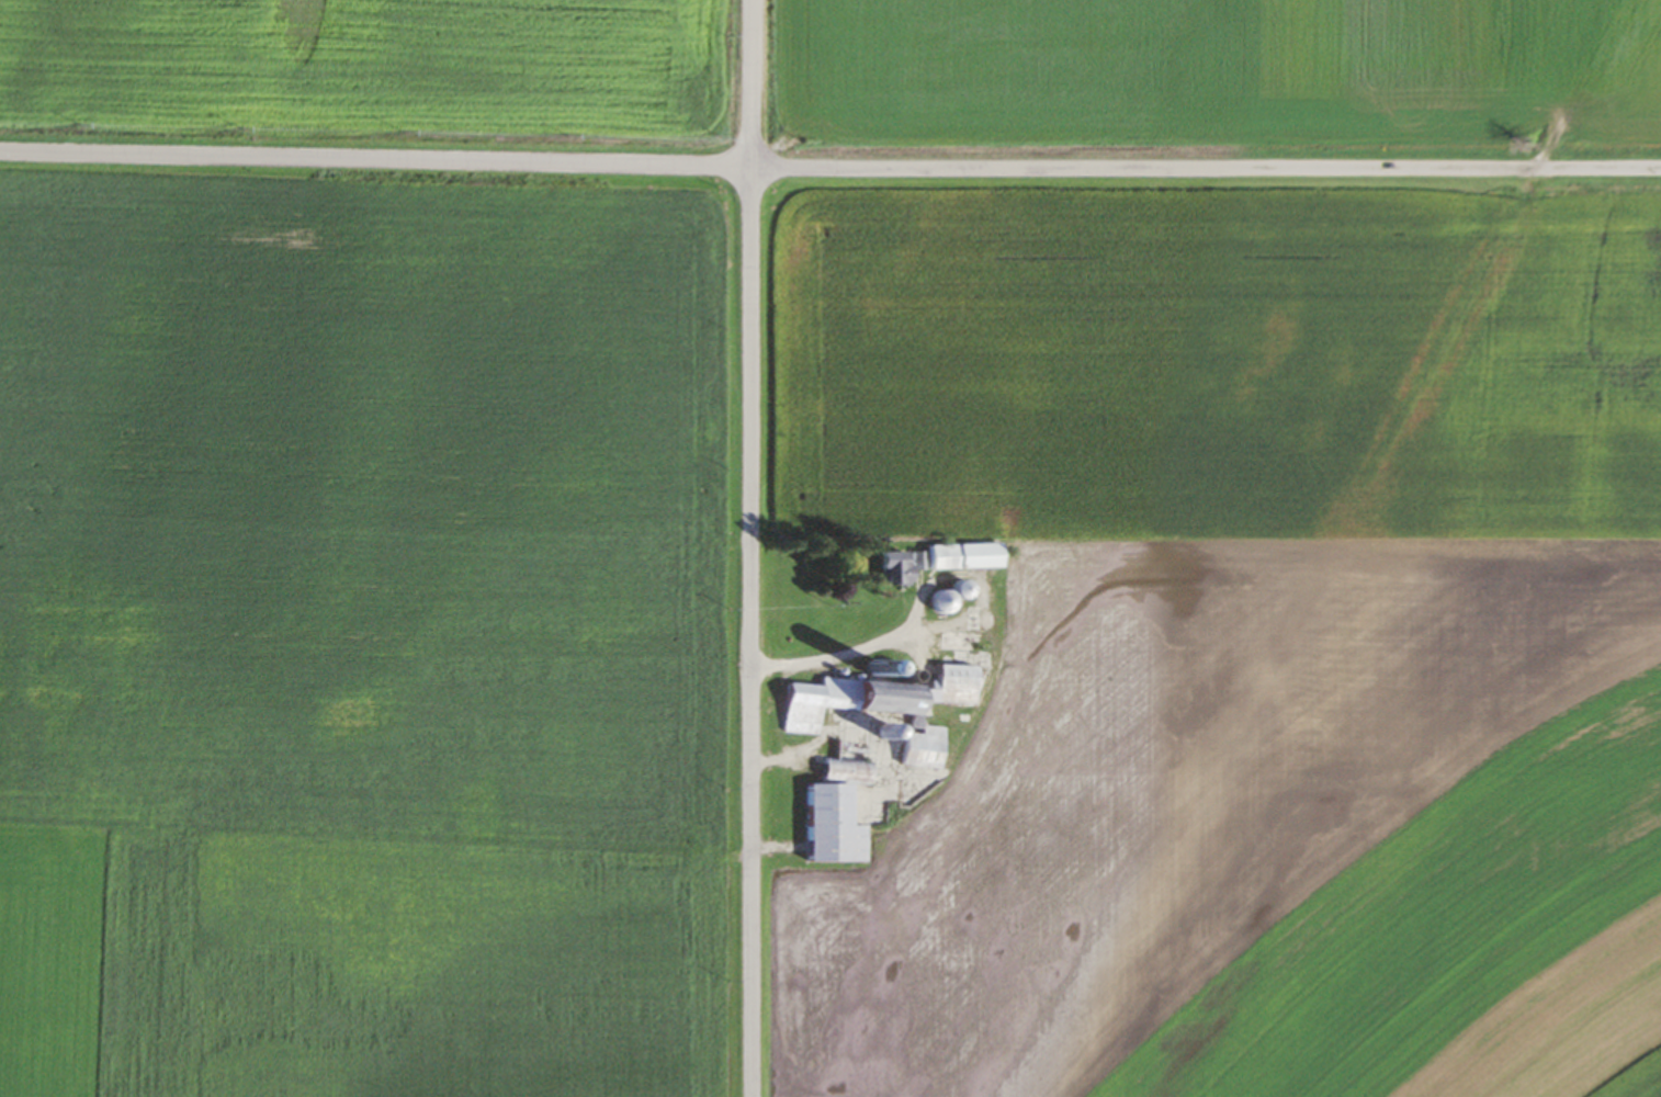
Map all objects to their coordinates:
road: (375, 159)
road: (1206, 168)
road: (750, 547)
building: (956, 556)
building: (885, 567)
building: (944, 597)
building: (879, 706)
building: (830, 813)

